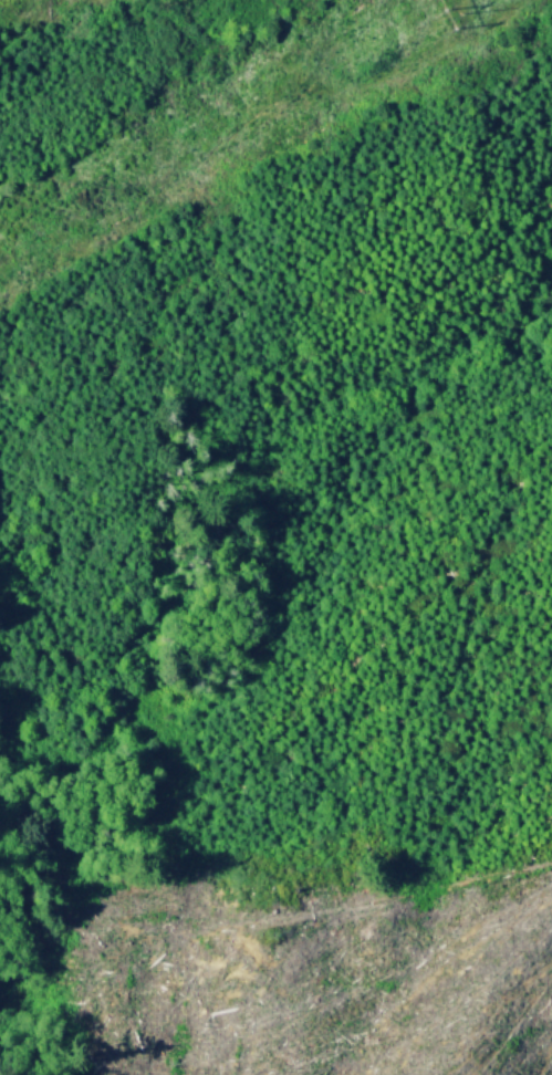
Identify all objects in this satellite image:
power tower: (438, 9)

